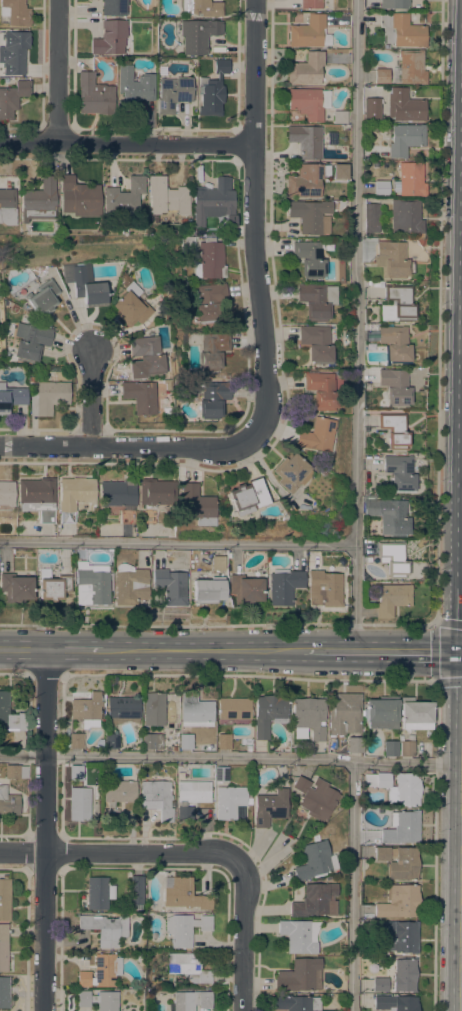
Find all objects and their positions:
building: (314, 4)
building: (394, 4)
building: (114, 7)
building: (201, 7)
building: (15, 12)
building: (401, 31)
building: (309, 33)
building: (198, 36)
building: (109, 38)
building: (13, 52)
building: (411, 67)
building: (306, 69)
building: (162, 70)
road: (57, 72)
building: (381, 76)
building: (6, 81)
building: (134, 88)
building: (212, 91)
building: (173, 94)
building: (94, 95)
building: (12, 98)
building: (308, 102)
building: (404, 106)
building: (372, 108)
building: (340, 117)
building: (405, 139)
building: (306, 141)
road: (126, 144)
building: (339, 171)
building: (306, 180)
building: (408, 180)
building: (380, 188)
building: (123, 197)
building: (166, 197)
building: (78, 198)
building: (214, 198)
building: (37, 201)
building: (6, 206)
building: (310, 216)
building: (404, 217)
building: (370, 218)
building: (185, 244)
road: (253, 245)
building: (308, 259)
building: (209, 260)
building: (391, 260)
building: (340, 261)
building: (377, 284)
building: (88, 286)
building: (375, 292)
building: (43, 298)
building: (316, 301)
building: (208, 302)
building: (132, 303)
building: (397, 304)
road: (357, 325)
building: (370, 327)
building: (29, 342)
building: (315, 343)
building: (395, 344)
building: (211, 351)
building: (147, 354)
building: (31, 379)
building: (394, 386)
building: (320, 390)
building: (140, 396)
building: (11, 397)
building: (48, 397)
building: (212, 399)
road: (93, 400)
building: (163, 403)
building: (393, 430)
building: (315, 435)
road: (103, 447)
building: (290, 473)
building: (399, 473)
building: (156, 493)
building: (6, 495)
building: (74, 496)
building: (37, 497)
building: (246, 497)
building: (119, 498)
building: (369, 498)
building: (197, 506)
building: (389, 516)
building: (147, 517)
road: (437, 530)
road: (177, 542)
building: (393, 559)
building: (217, 563)
building: (91, 584)
building: (129, 585)
building: (53, 586)
building: (170, 586)
building: (284, 586)
building: (326, 587)
building: (15, 588)
building: (245, 589)
building: (208, 590)
building: (391, 599)
road: (23, 647)
road: (74, 648)
road: (202, 650)
road: (382, 652)
road: (435, 652)
road: (15, 673)
road: (46, 674)
road: (249, 674)
building: (154, 709)
building: (234, 709)
building: (123, 710)
building: (86, 711)
building: (195, 711)
building: (382, 712)
building: (269, 714)
building: (344, 714)
building: (415, 714)
building: (10, 716)
building: (308, 718)
building: (76, 741)
building: (111, 741)
building: (152, 741)
building: (185, 741)
building: (224, 741)
building: (355, 744)
building: (390, 748)
building: (248, 749)
building: (407, 749)
road: (231, 757)
building: (16, 772)
building: (75, 773)
building: (221, 774)
building: (396, 787)
building: (117, 794)
building: (191, 797)
building: (158, 798)
building: (315, 798)
building: (230, 802)
building: (8, 803)
building: (79, 804)
building: (269, 807)
road: (47, 829)
building: (403, 829)
road: (435, 845)
road: (97, 854)
building: (315, 861)
building: (398, 862)
road: (354, 887)
building: (136, 892)
building: (98, 893)
building: (184, 895)
building: (5, 900)
building: (316, 900)
building: (398, 902)
road: (245, 912)
building: (105, 929)
building: (184, 929)
building: (399, 935)
building: (299, 936)
building: (3, 947)
road: (461, 955)
building: (187, 968)
building: (101, 972)
building: (402, 974)
building: (299, 975)
building: (380, 985)
building: (4, 993)
building: (98, 1000)
building: (191, 1000)
building: (296, 1003)
building: (395, 1003)

